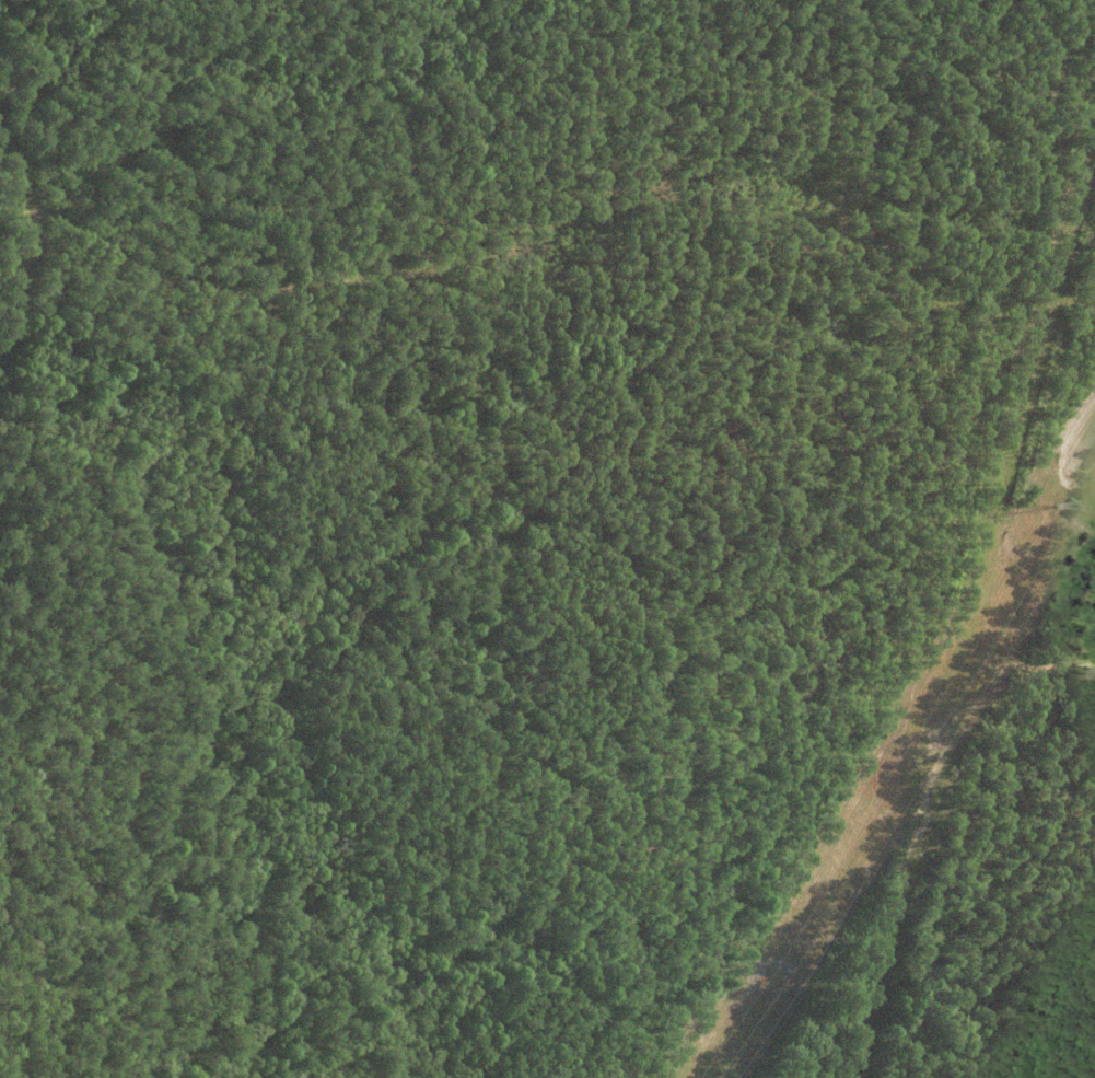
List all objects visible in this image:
power tower: (1065, 509)

